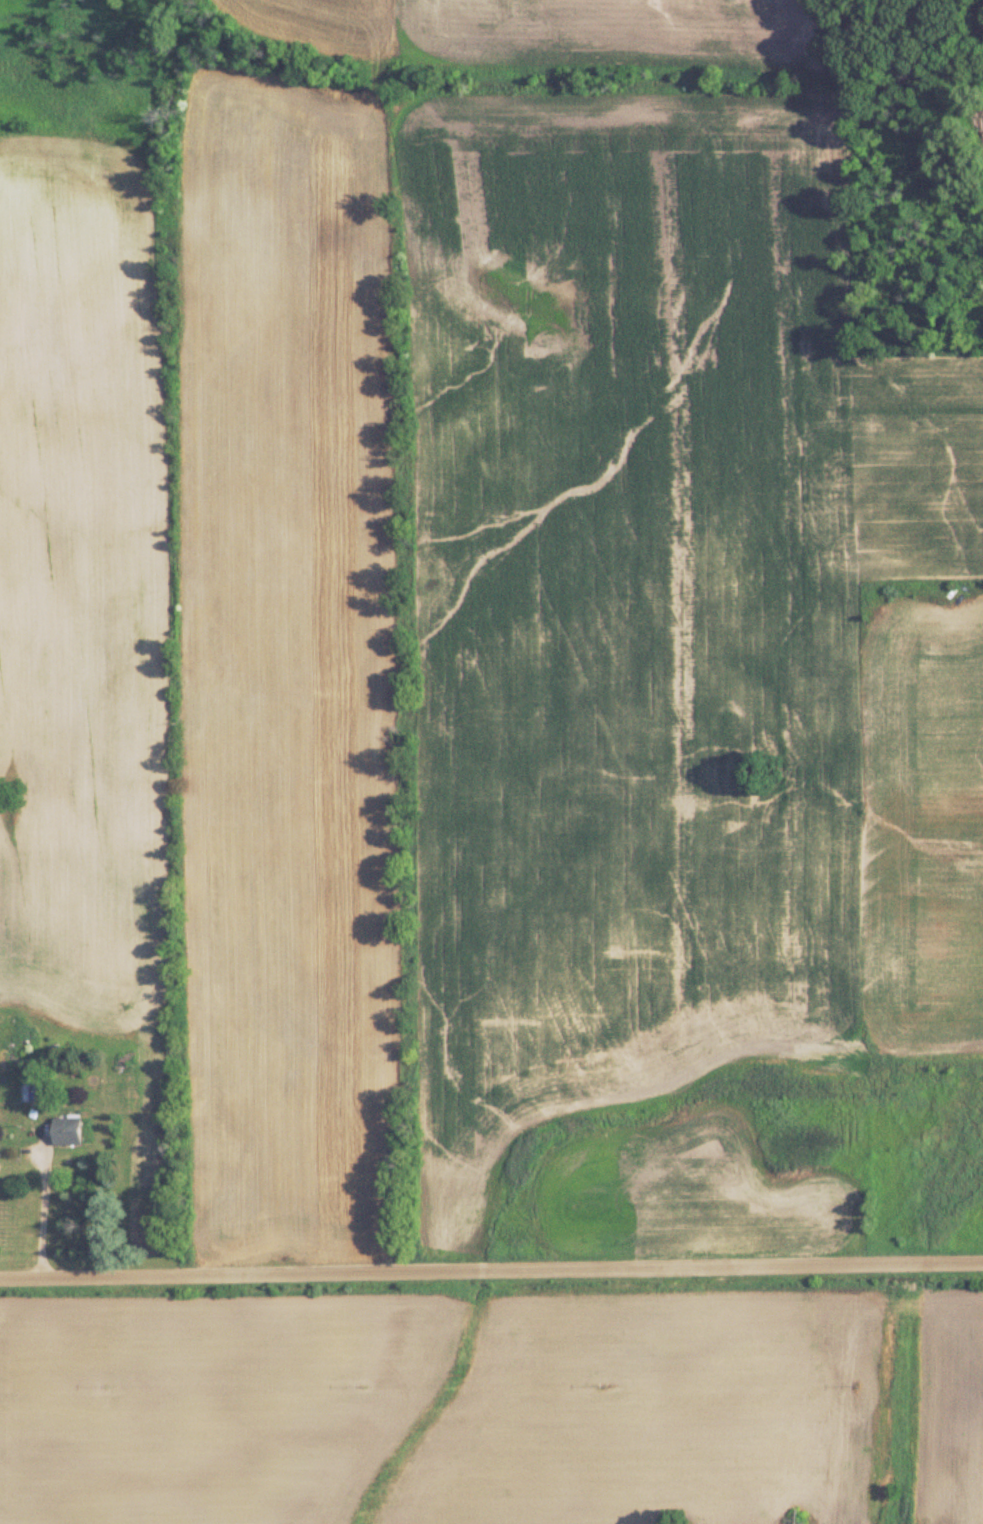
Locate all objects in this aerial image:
building: (28, 1091)
building: (66, 1130)
road: (44, 1220)
road: (491, 1275)

